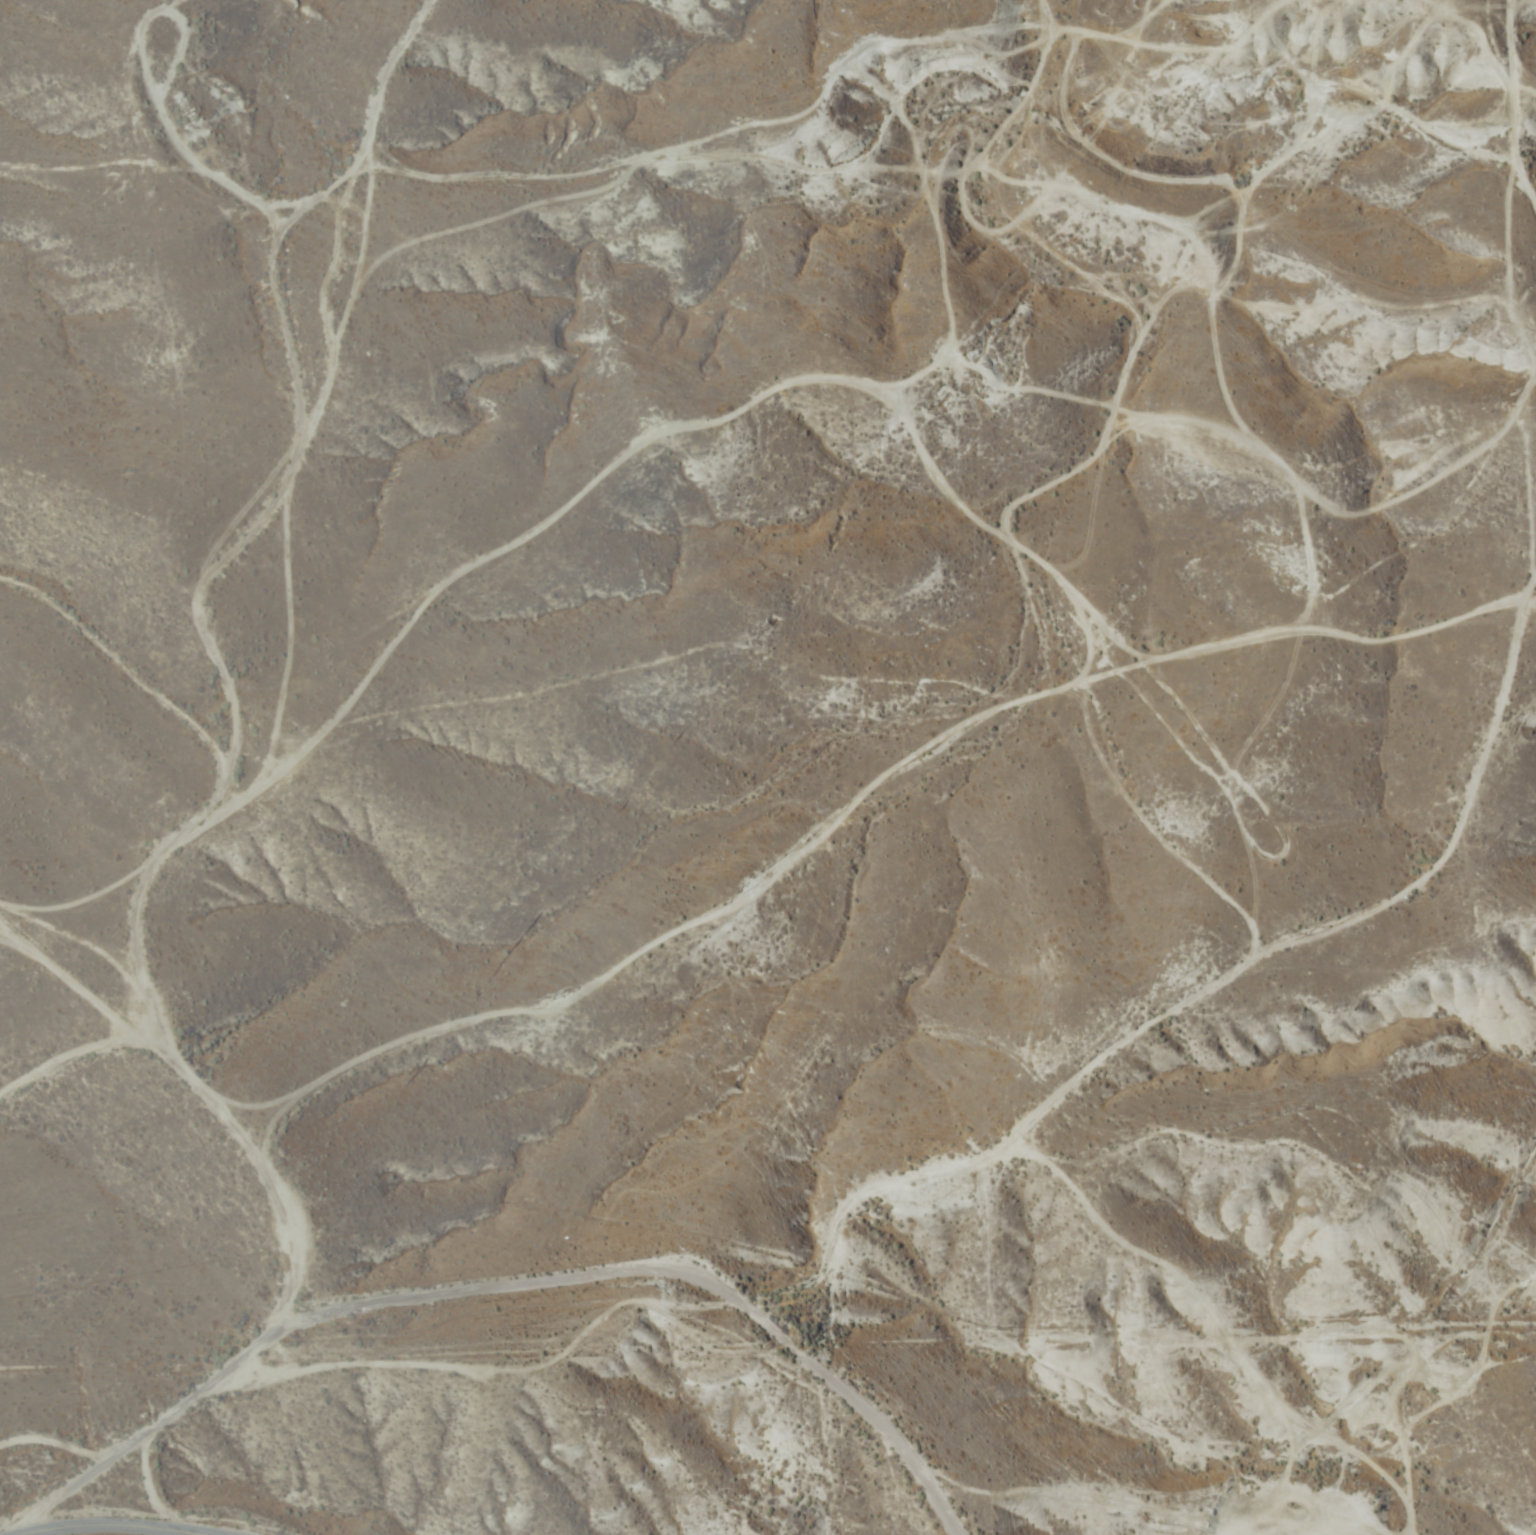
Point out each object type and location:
road: (1477, 198)
road: (259, 240)
road: (302, 248)
road: (209, 687)
road: (1122, 1066)
road: (55, 1074)
road: (385, 1332)
road: (99, 1471)
road: (127, 1524)

